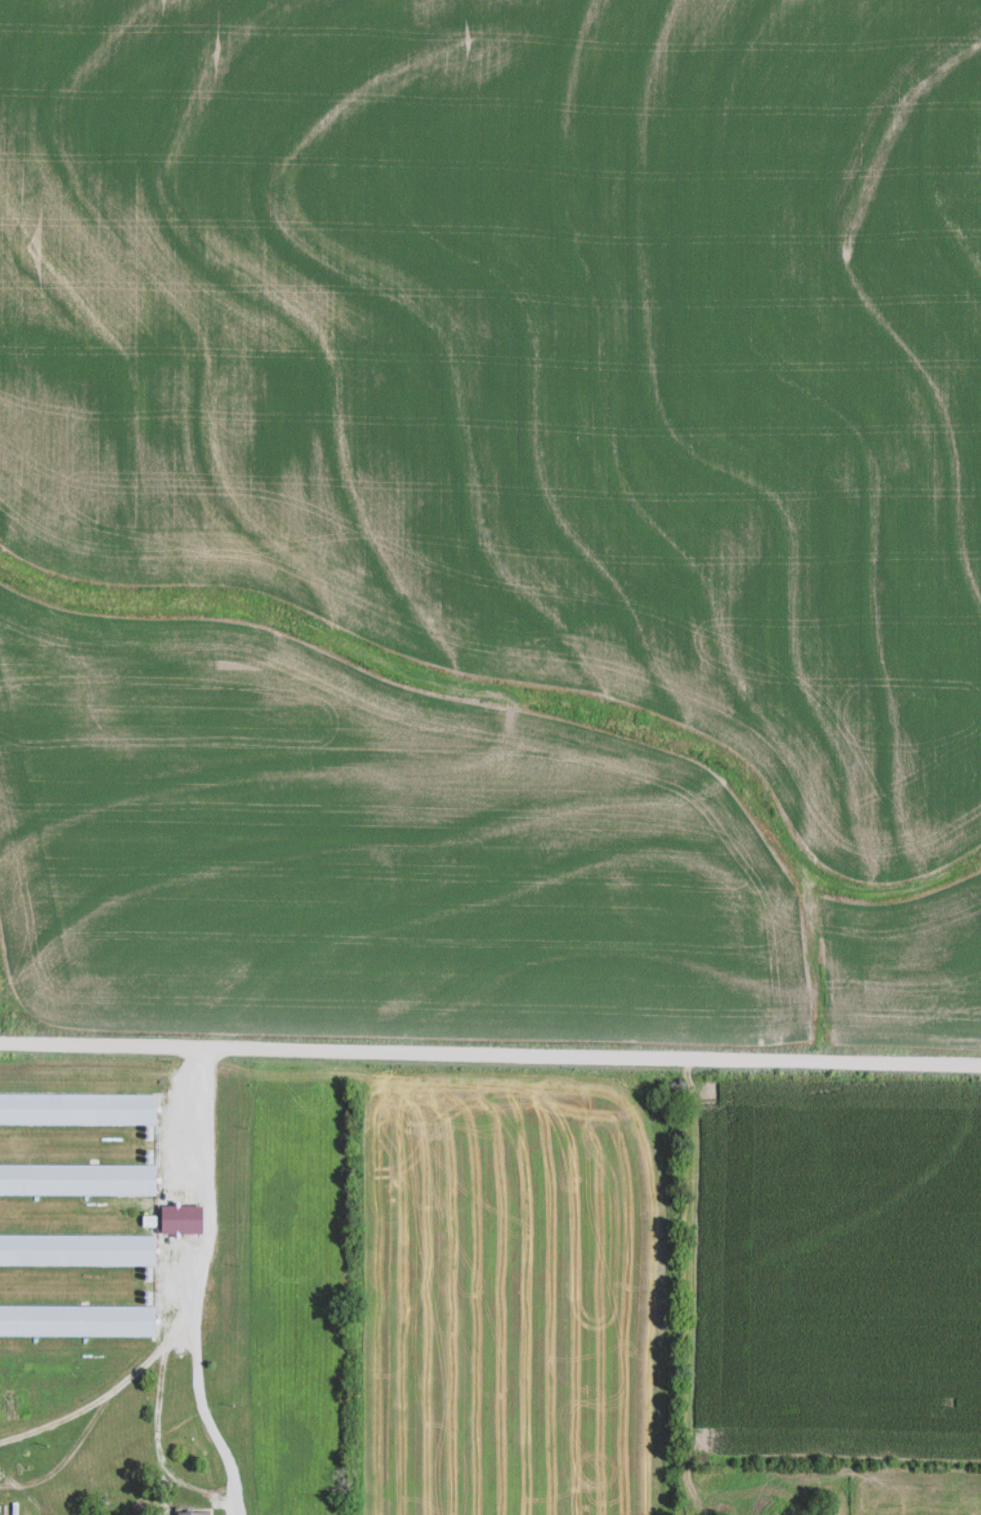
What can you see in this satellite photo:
road: (490, 1053)
building: (79, 1108)
building: (78, 1179)
building: (78, 1249)
road: (198, 1283)
building: (78, 1320)
building: (193, 1513)

